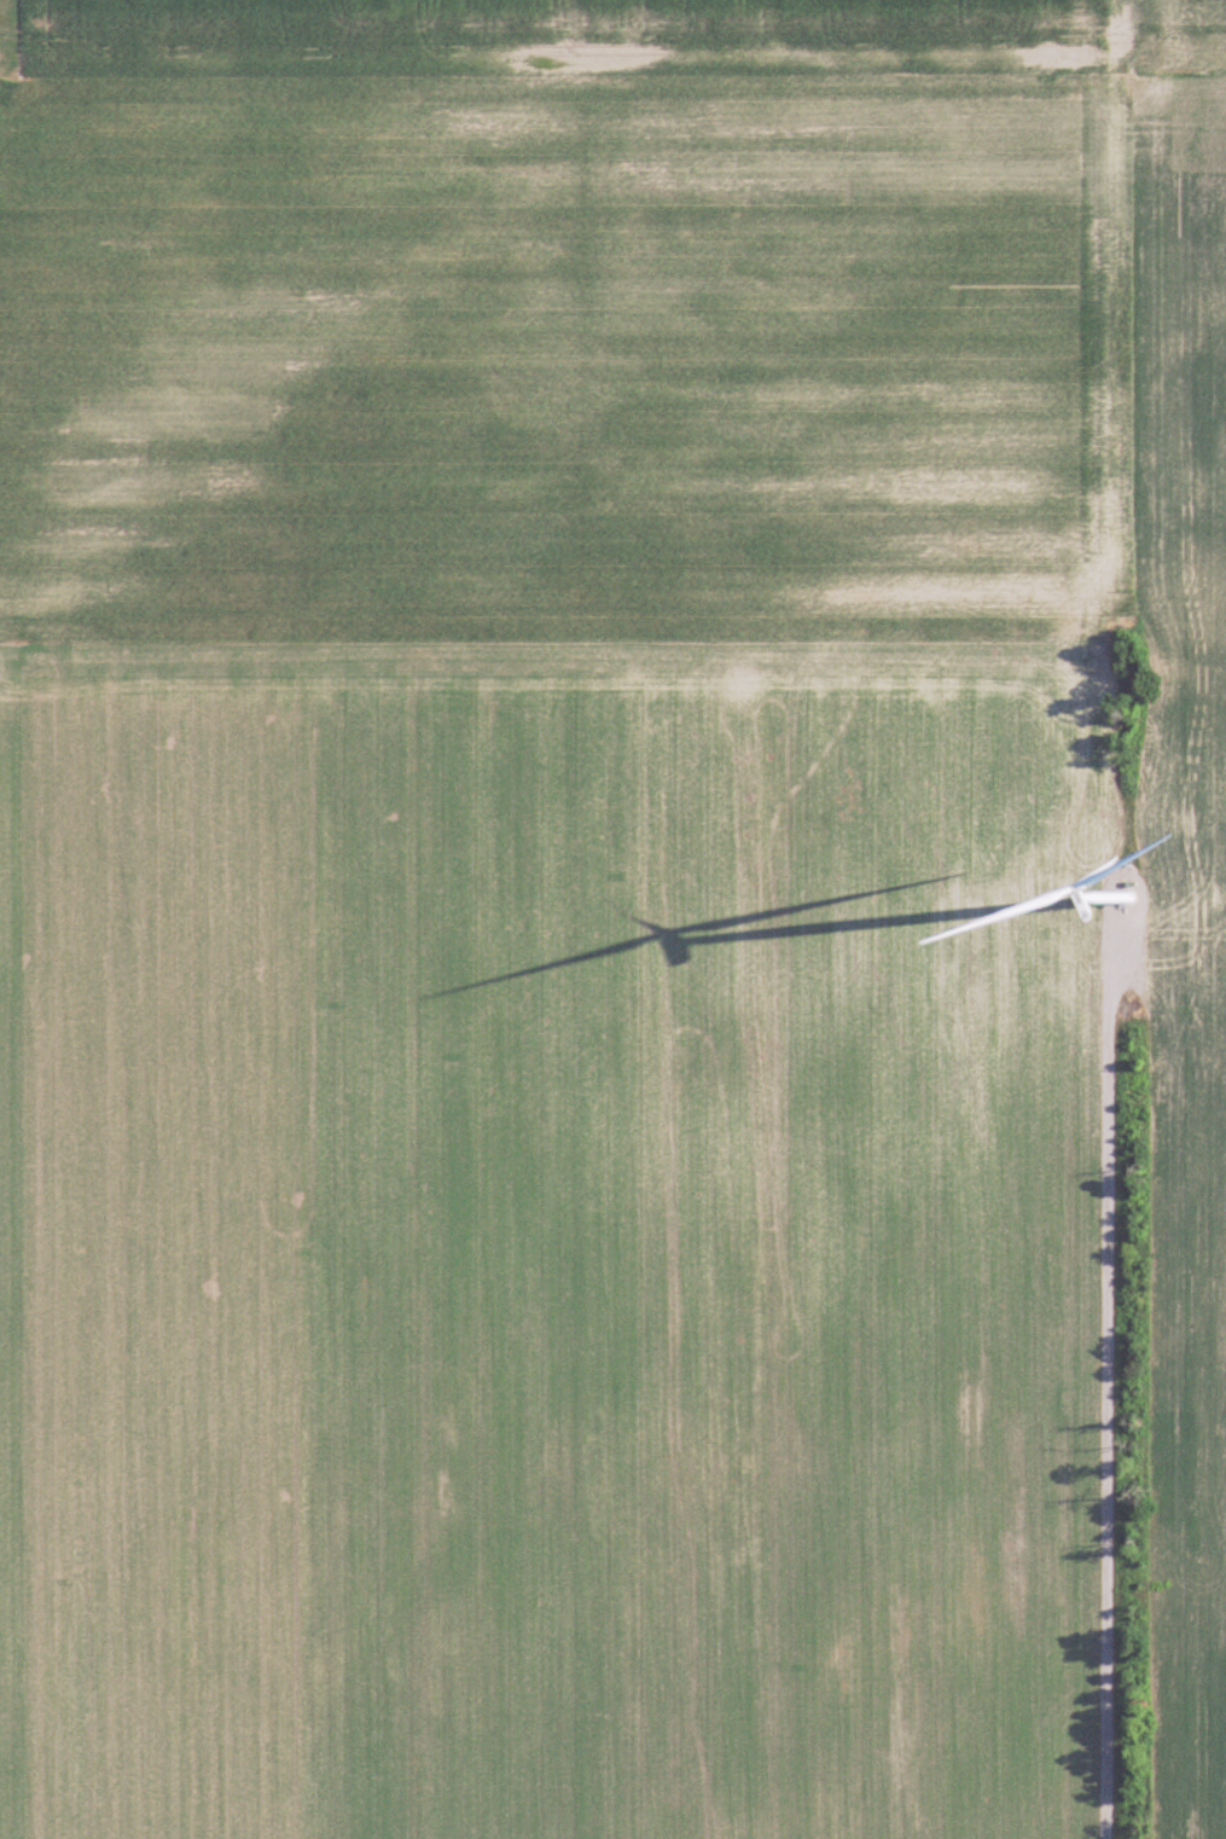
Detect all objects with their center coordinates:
wind turbine: (1115, 912)
road: (1099, 1414)

